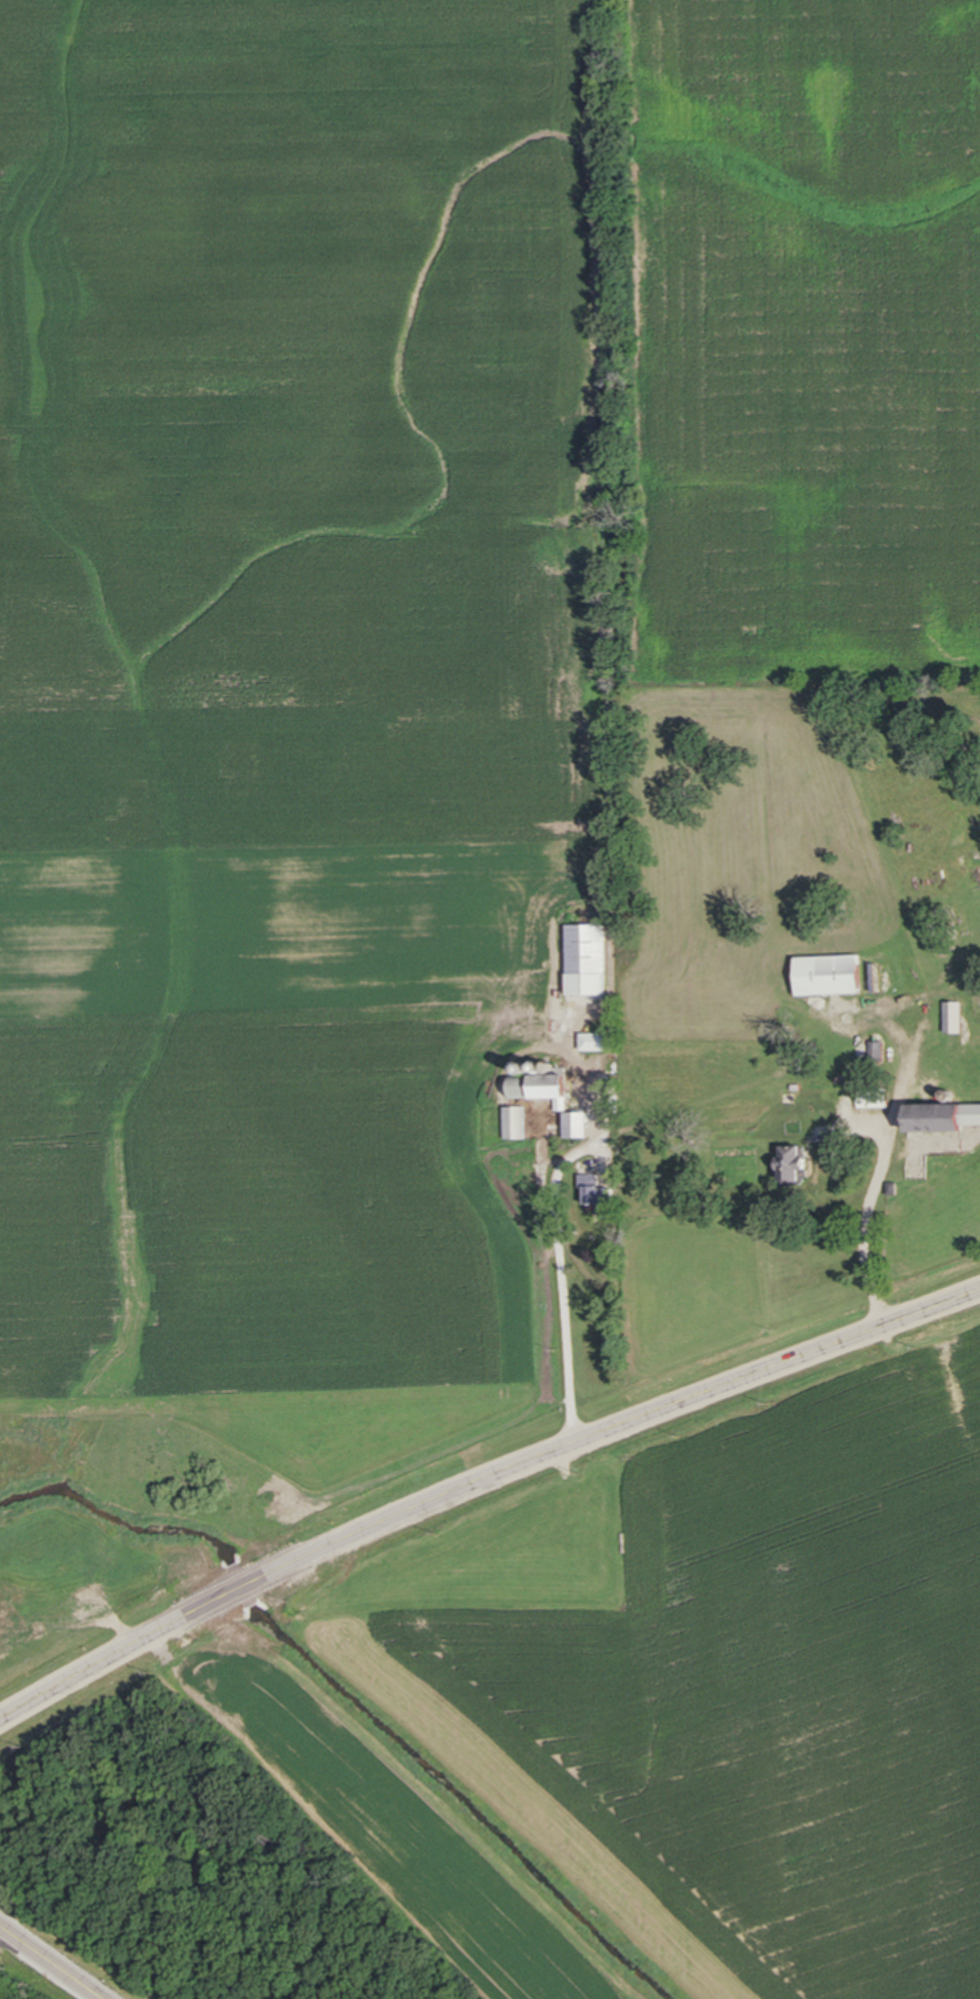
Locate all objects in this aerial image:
building: (585, 961)
building: (825, 977)
building: (952, 1018)
building: (530, 1088)
building: (574, 1127)
building: (785, 1165)
road: (864, 1229)
road: (565, 1298)
road: (479, 1482)
road: (4, 1933)
road: (52, 1962)

